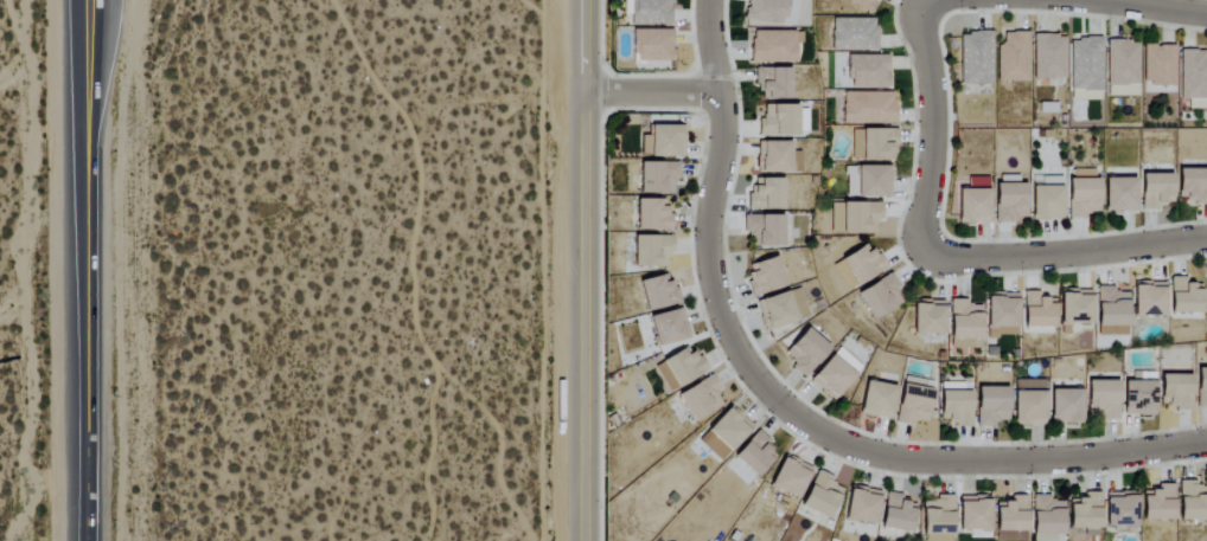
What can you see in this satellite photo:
building: (862, 4)
road: (1156, 6)
building: (649, 12)
building: (765, 13)
building: (854, 34)
building: (651, 45)
road: (710, 45)
building: (774, 46)
building: (1048, 57)
building: (975, 58)
building: (1013, 58)
building: (1085, 64)
building: (1158, 65)
building: (1122, 69)
building: (867, 71)
building: (773, 84)
road: (650, 91)
building: (868, 108)
building: (783, 120)
road: (932, 131)
road: (81, 139)
road: (91, 139)
building: (662, 141)
building: (873, 144)
building: (775, 157)
building: (657, 178)
building: (867, 181)
building: (1192, 185)
building: (1156, 191)
building: (1080, 193)
building: (766, 194)
building: (1119, 194)
building: (1009, 202)
building: (1046, 202)
building: (972, 206)
building: (651, 215)
building: (854, 218)
building: (762, 230)
building: (651, 251)
road: (1073, 252)
building: (860, 263)
road: (583, 270)
building: (764, 277)
building: (657, 292)
building: (1206, 292)
building: (880, 296)
building: (1184, 296)
building: (1148, 298)
building: (1074, 307)
building: (780, 309)
building: (1036, 310)
building: (1111, 313)
building: (1001, 315)
building: (927, 317)
building: (964, 324)
building: (668, 327)
building: (804, 352)
building: (683, 366)
building: (835, 373)
building: (1201, 387)
building: (1175, 391)
building: (1138, 394)
building: (700, 399)
building: (1103, 399)
building: (876, 400)
building: (1028, 402)
building: (953, 404)
building: (990, 405)
building: (1065, 406)
road: (85, 408)
building: (728, 429)
road: (824, 432)
building: (754, 455)
building: (788, 477)
building: (820, 496)
building: (1192, 502)
building: (1157, 503)
building: (861, 505)
building: (1119, 509)
building: (898, 514)
building: (1084, 514)
building: (975, 515)
building: (937, 519)
building: (1010, 519)
building: (1046, 519)

